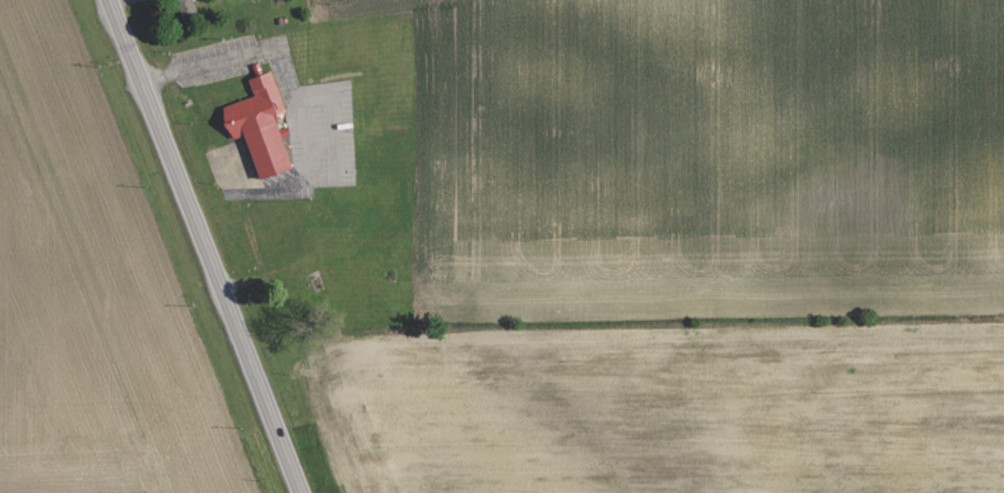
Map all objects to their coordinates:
building: (188, 6)
road: (152, 118)
building: (261, 124)
road: (251, 364)

